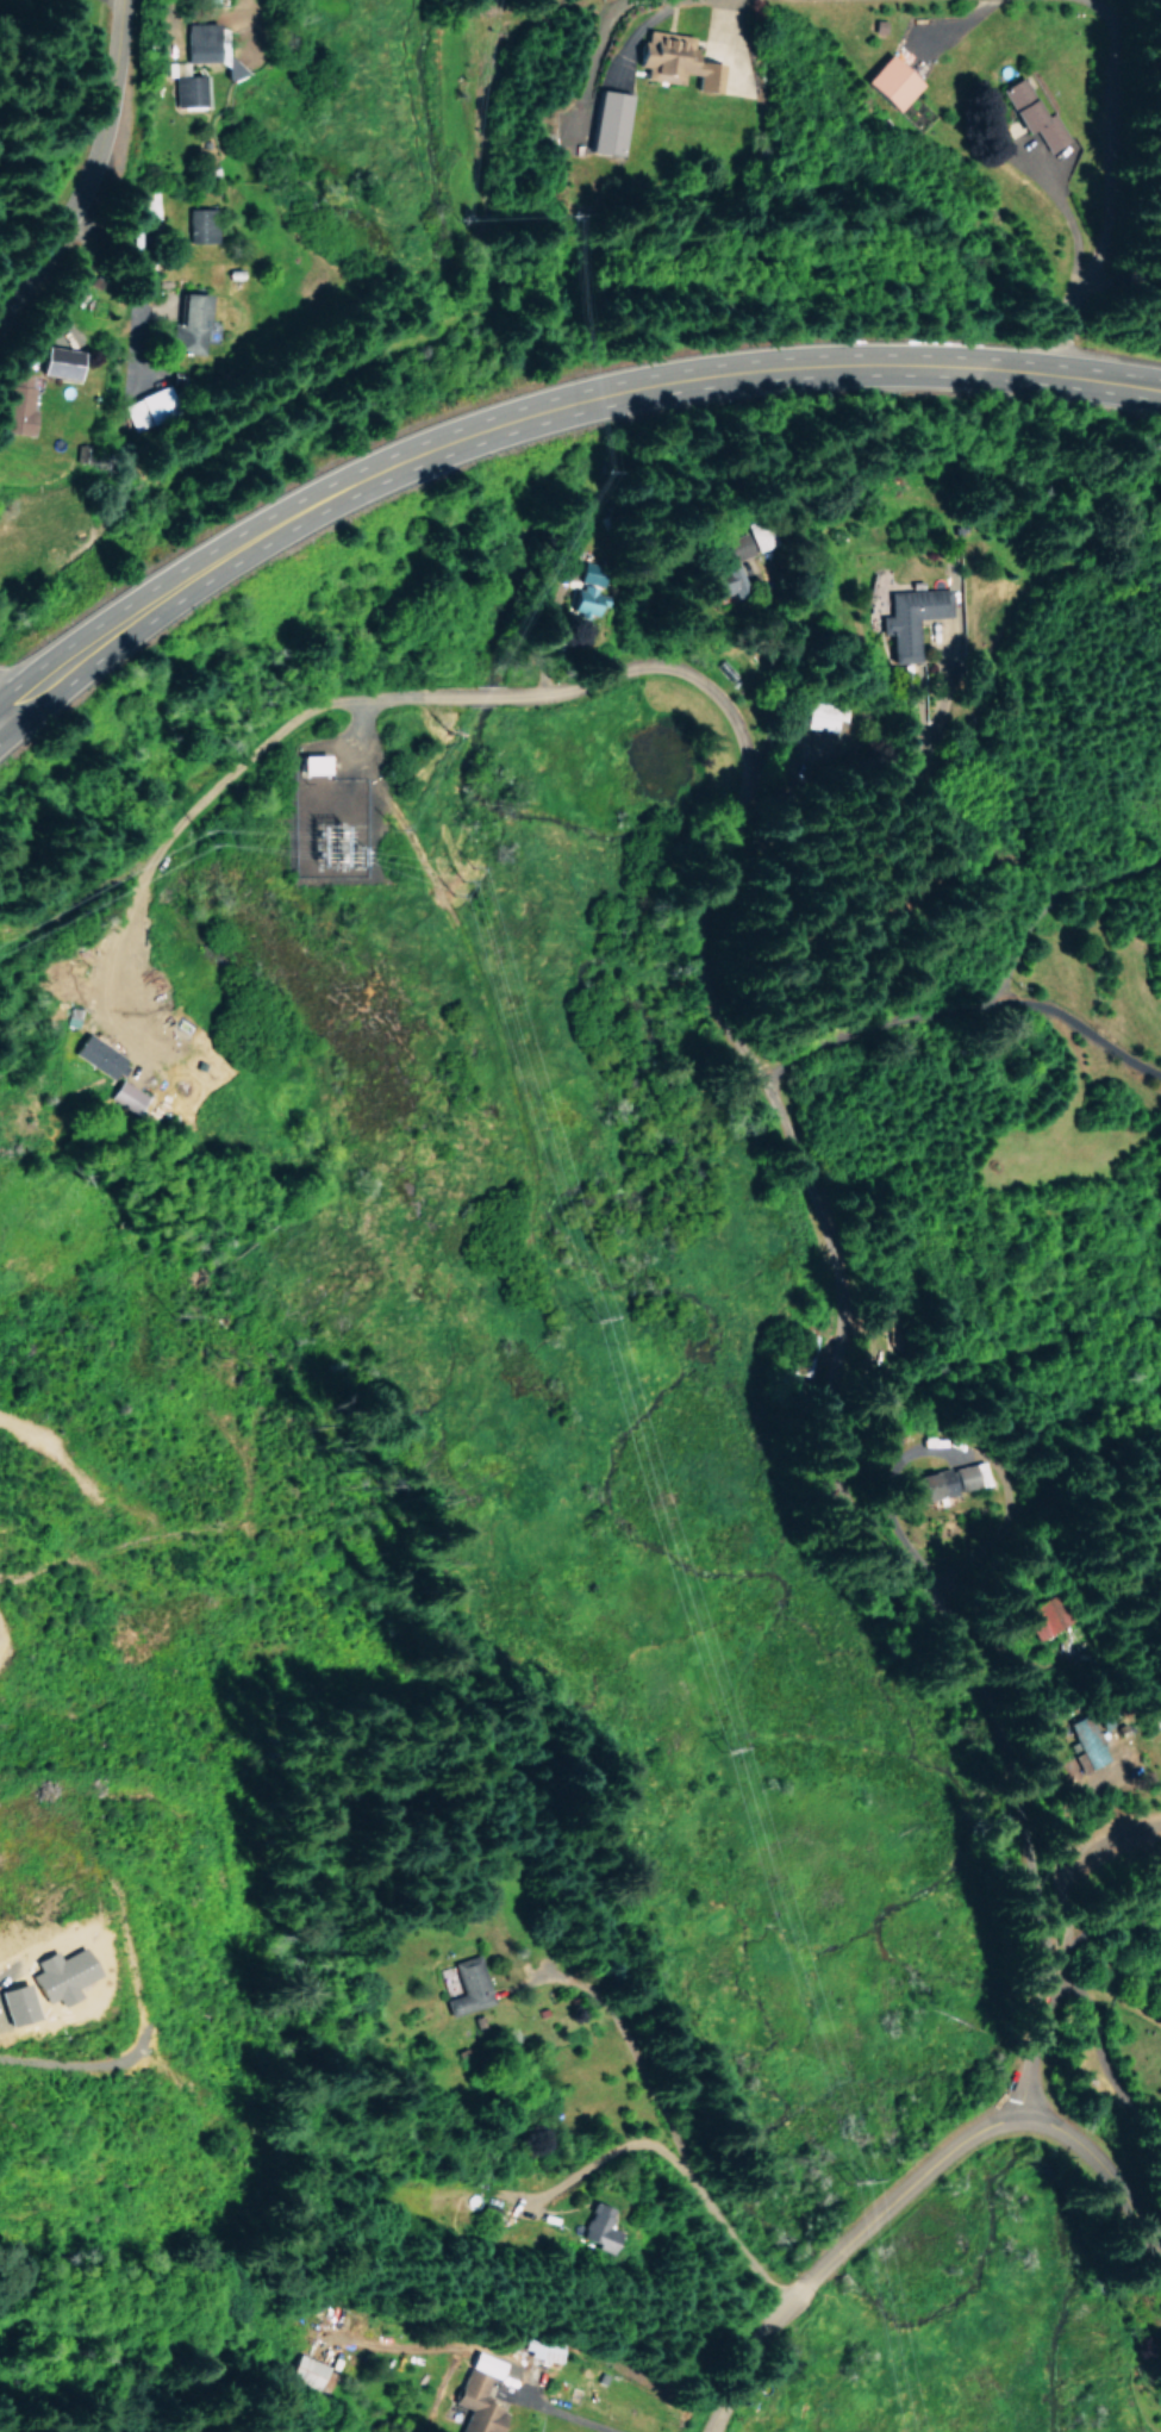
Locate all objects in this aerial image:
building: (207, 46)
building: (672, 60)
building: (888, 82)
building: (186, 89)
building: (1025, 104)
building: (604, 120)
road: (99, 176)
road: (1073, 188)
building: (198, 224)
building: (187, 323)
building: (54, 361)
building: (17, 404)
building: (150, 405)
road: (541, 411)
building: (737, 547)
building: (724, 580)
building: (588, 593)
building: (909, 617)
building: (825, 716)
building: (310, 762)
power substation: (329, 823)
road: (801, 999)
building: (95, 1056)
building: (124, 1095)
road: (749, 1286)
building: (924, 1484)
building: (1031, 1617)
building: (1085, 1742)
building: (46, 1976)
building: (467, 1984)
building: (10, 2004)
road: (676, 2164)
road: (907, 2180)
building: (593, 2227)
building: (542, 2346)
building: (305, 2370)
building: (477, 2394)
road: (557, 2419)

